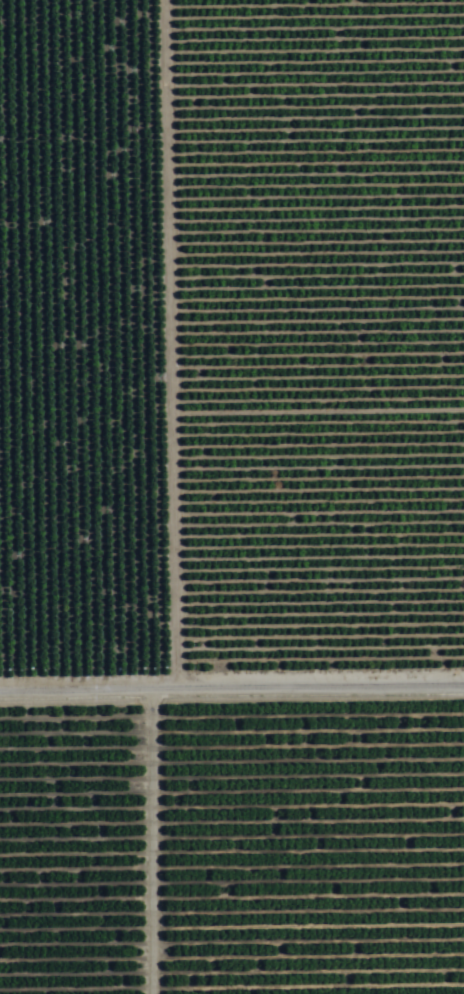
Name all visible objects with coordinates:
crop: (232, 497)
road: (232, 649)

